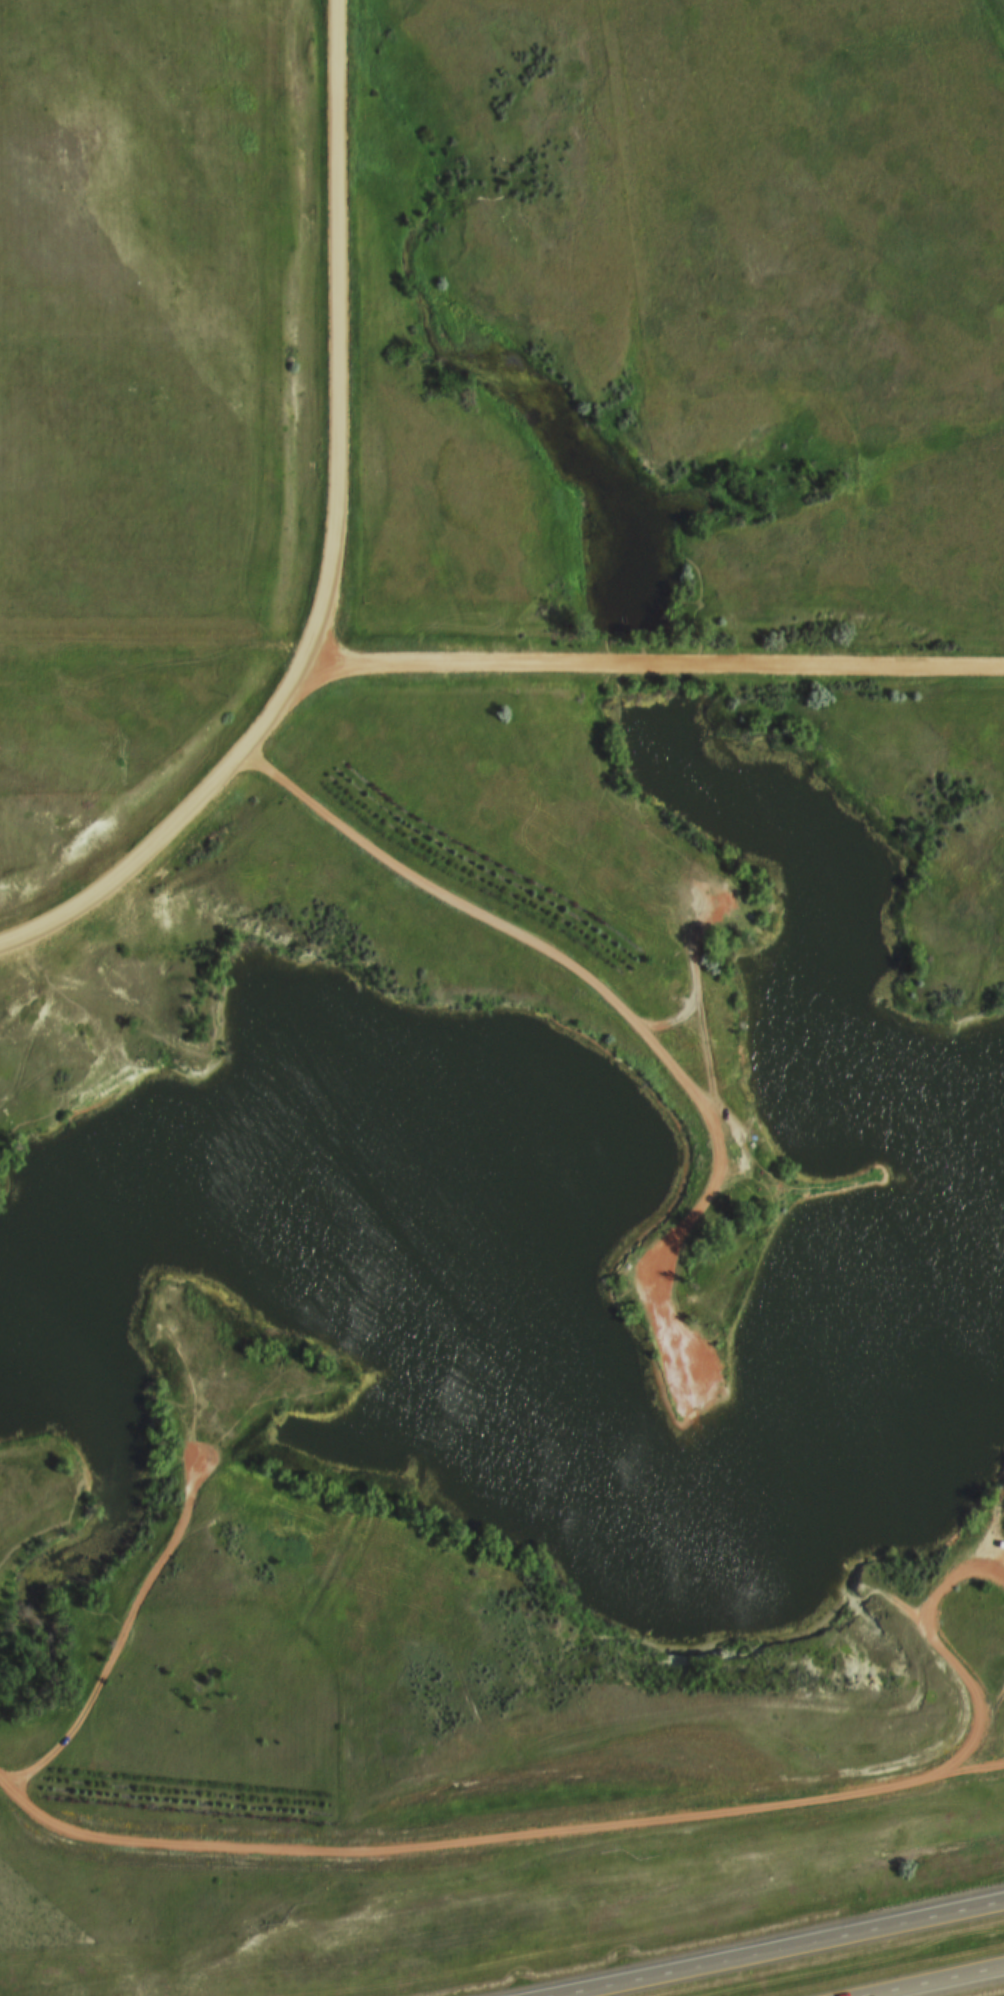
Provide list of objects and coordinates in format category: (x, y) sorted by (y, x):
road: (339, 336)
road: (157, 650)
road: (655, 666)
road: (171, 829)
road: (591, 985)
road: (30, 1511)
road: (141, 1604)
road: (927, 1637)
road: (998, 1716)
road: (505, 1849)
road: (782, 1951)
road: (958, 1986)

